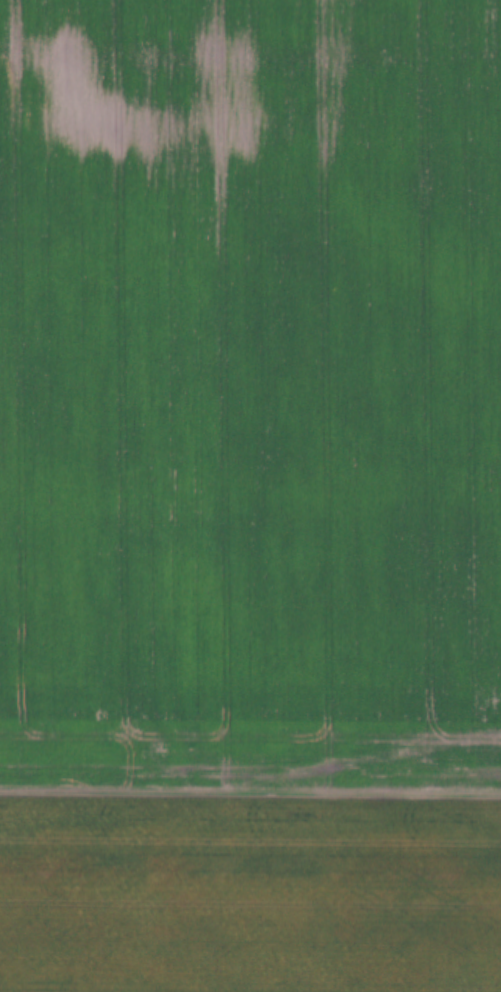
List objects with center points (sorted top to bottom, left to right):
road: (250, 789)

